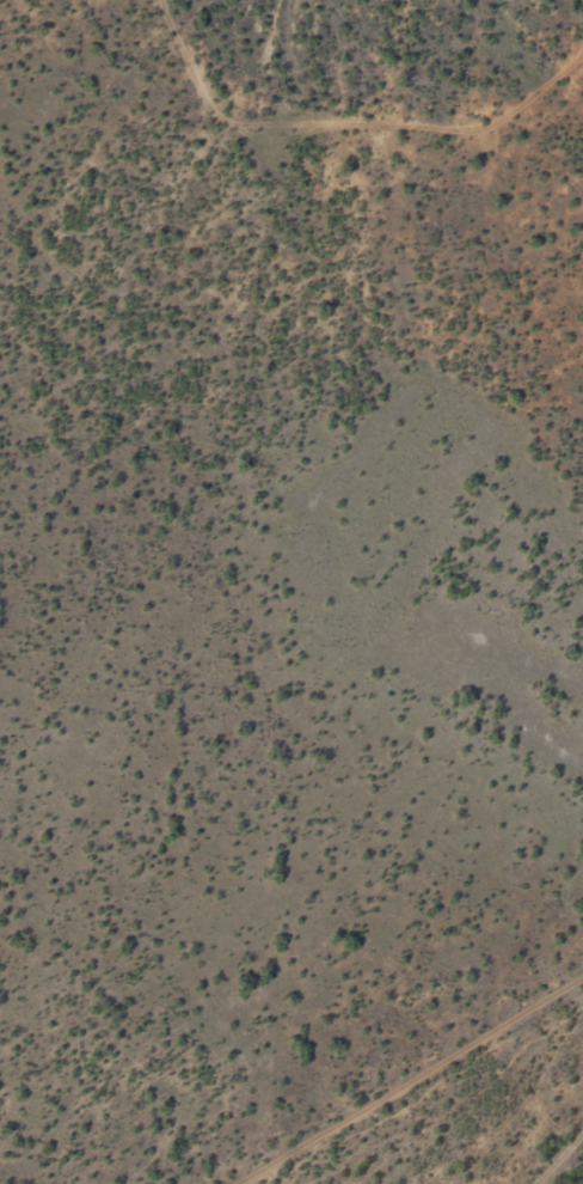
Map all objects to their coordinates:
road: (399, 1088)

